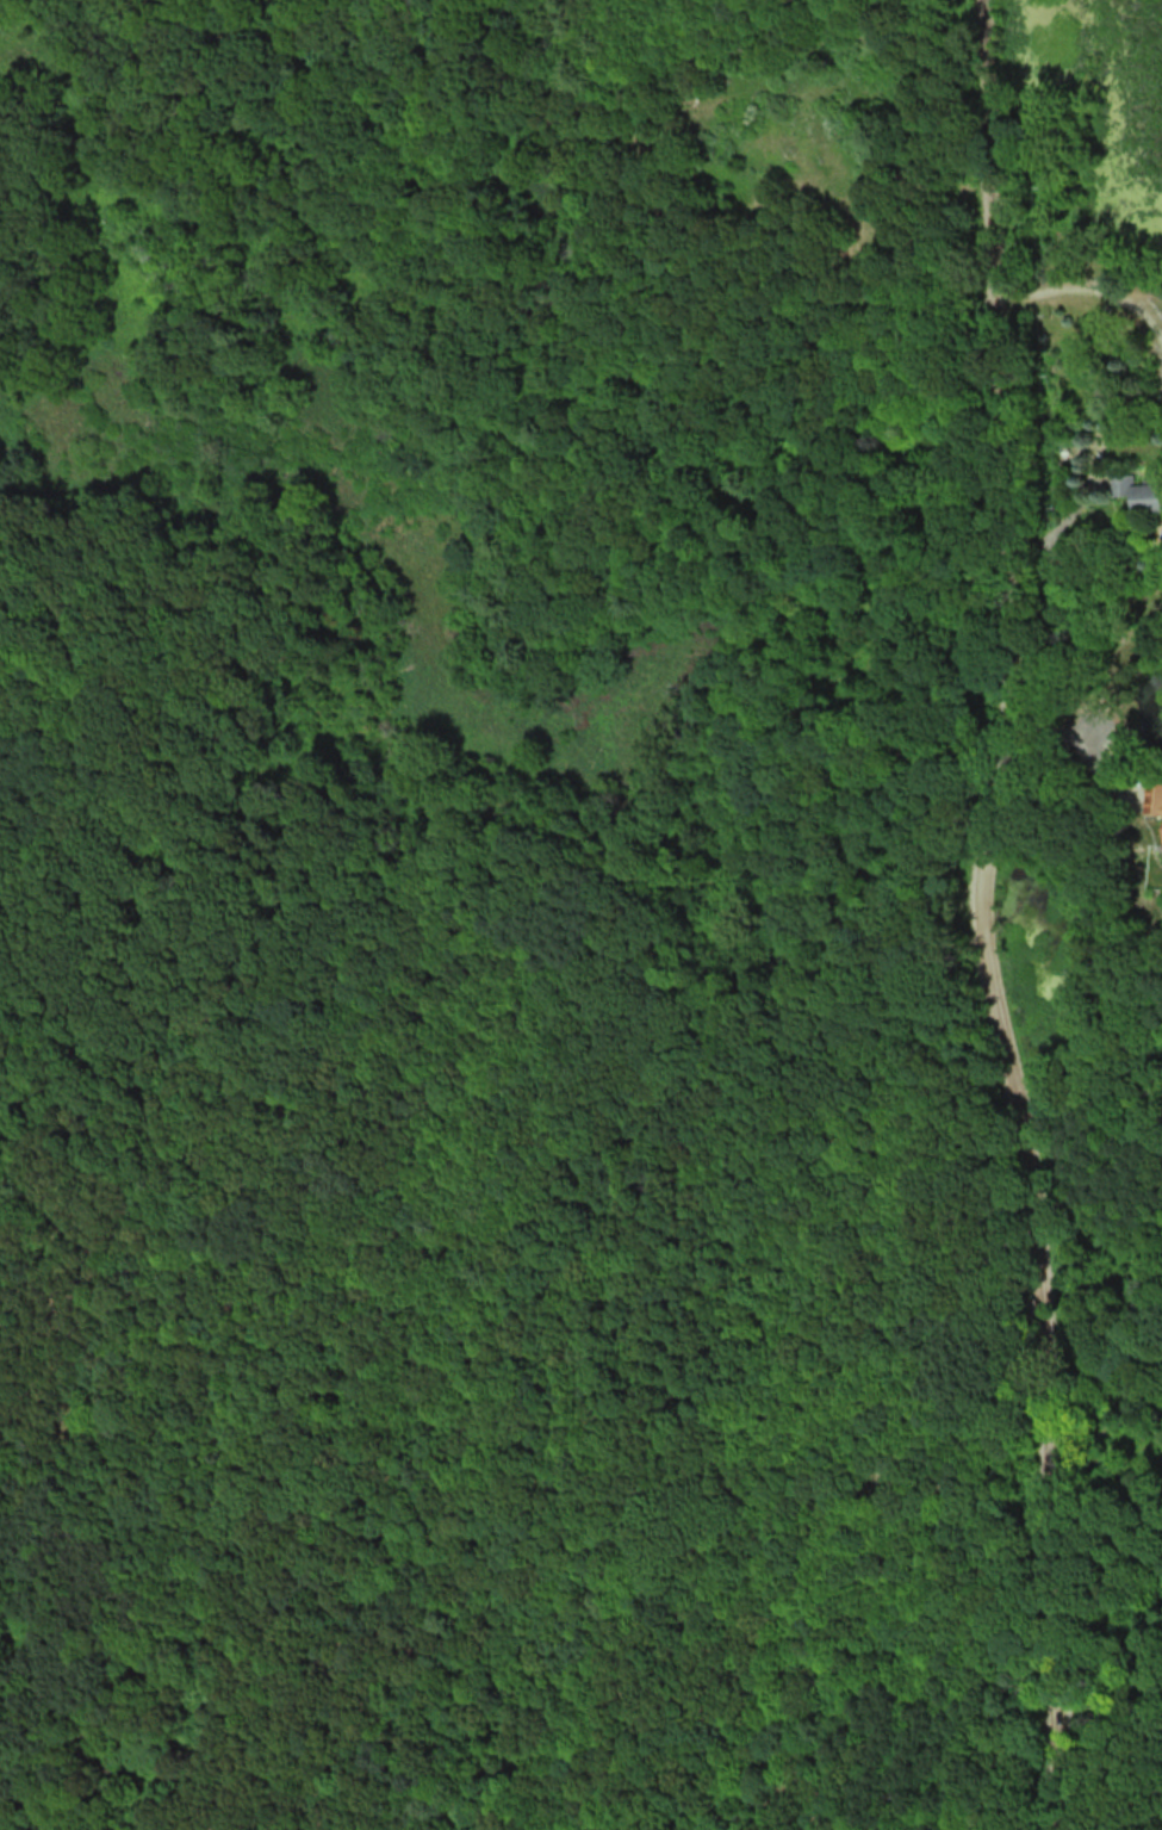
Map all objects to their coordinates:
road: (1088, 291)
building: (1120, 483)
building: (1147, 496)
road: (1081, 746)
road: (980, 916)

